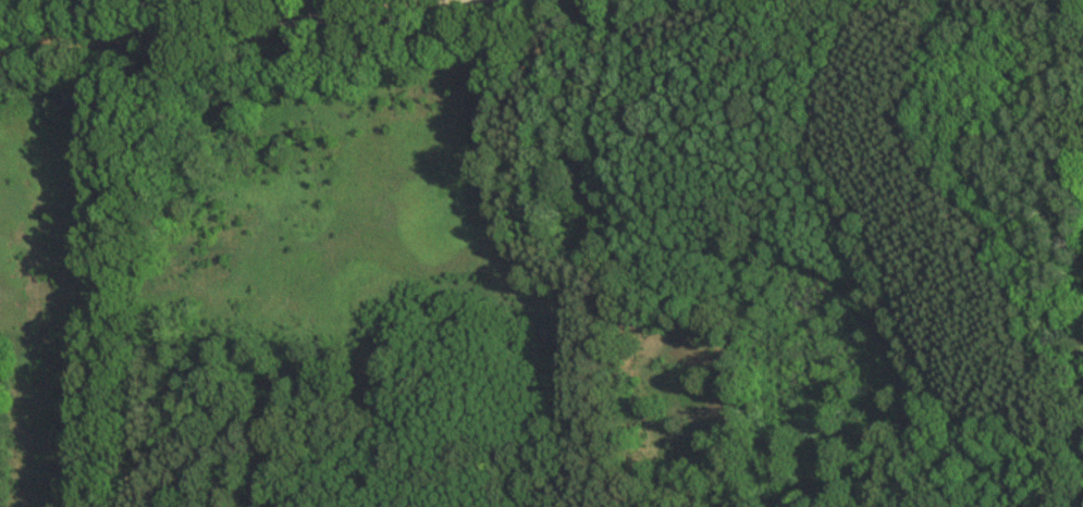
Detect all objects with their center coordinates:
road: (220, 25)

